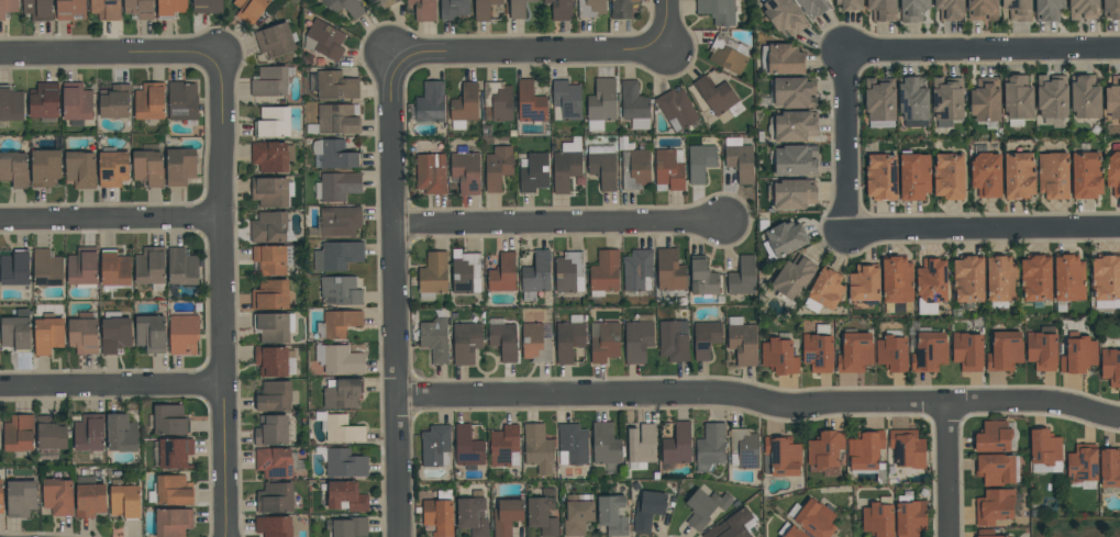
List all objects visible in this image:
building: (381, 3)
building: (850, 4)
building: (207, 7)
building: (345, 7)
building: (813, 7)
building: (8, 8)
building: (138, 8)
building: (170, 8)
building: (518, 8)
building: (37, 9)
building: (69, 9)
building: (106, 9)
building: (423, 9)
building: (453, 9)
building: (484, 9)
building: (559, 9)
building: (590, 9)
building: (621, 9)
building: (949, 9)
building: (1084, 9)
building: (1111, 9)
building: (249, 10)
building: (881, 10)
building: (911, 10)
building: (982, 10)
building: (1018, 10)
building: (1049, 10)
building: (717, 11)
building: (784, 15)
road: (668, 25)
building: (275, 40)
building: (324, 40)
road: (983, 49)
road: (528, 51)
road: (110, 54)
building: (728, 54)
building: (783, 59)
building: (270, 81)
building: (333, 85)
building: (795, 92)
building: (718, 97)
building: (1085, 97)
building: (1112, 98)
building: (985, 99)
building: (1018, 99)
building: (1052, 99)
building: (566, 100)
building: (45, 101)
building: (114, 101)
building: (149, 101)
building: (181, 101)
building: (498, 101)
building: (912, 101)
building: (946, 101)
building: (431, 102)
building: (880, 102)
building: (11, 103)
building: (76, 103)
building: (531, 103)
building: (601, 103)
building: (634, 104)
building: (464, 107)
building: (676, 110)
building: (337, 119)
building: (274, 121)
building: (795, 125)
road: (844, 144)
building: (334, 154)
building: (271, 156)
building: (739, 158)
building: (794, 160)
building: (700, 161)
building: (566, 165)
building: (601, 165)
building: (147, 167)
building: (179, 167)
building: (498, 167)
building: (45, 168)
building: (112, 168)
building: (669, 168)
building: (14, 169)
building: (635, 169)
building: (80, 170)
building: (430, 172)
building: (466, 172)
building: (533, 172)
building: (1113, 172)
building: (986, 175)
building: (1086, 175)
building: (913, 176)
building: (949, 176)
building: (1019, 176)
building: (1053, 176)
building: (881, 177)
building: (336, 187)
building: (270, 191)
building: (791, 193)
building: (340, 221)
road: (110, 222)
road: (563, 224)
building: (269, 227)
road: (986, 230)
building: (784, 239)
building: (337, 255)
building: (271, 259)
building: (82, 267)
building: (151, 267)
building: (181, 267)
building: (15, 268)
building: (46, 269)
building: (114, 269)
building: (637, 270)
building: (669, 270)
building: (465, 272)
building: (568, 272)
building: (603, 272)
building: (502, 273)
building: (433, 275)
building: (535, 276)
building: (743, 277)
building: (1035, 277)
building: (792, 278)
building: (968, 278)
building: (702, 279)
building: (1068, 280)
building: (1106, 280)
building: (1001, 281)
building: (864, 283)
building: (897, 284)
building: (931, 284)
building: (340, 291)
building: (824, 291)
road: (398, 292)
building: (271, 294)
road: (222, 295)
building: (339, 323)
building: (274, 327)
building: (16, 331)
building: (115, 333)
building: (151, 333)
building: (47, 334)
building: (84, 334)
building: (184, 334)
building: (569, 338)
building: (637, 338)
building: (705, 338)
building: (435, 339)
building: (503, 340)
building: (674, 340)
building: (742, 340)
building: (466, 342)
building: (603, 342)
building: (534, 343)
building: (818, 349)
building: (1042, 349)
building: (967, 350)
building: (854, 351)
building: (892, 351)
building: (929, 351)
building: (1005, 351)
building: (1078, 354)
building: (779, 357)
building: (340, 359)
building: (273, 360)
building: (1110, 366)
road: (112, 385)
building: (342, 393)
building: (276, 396)
road: (761, 402)
building: (168, 421)
building: (341, 428)
building: (271, 430)
building: (19, 433)
building: (89, 433)
building: (121, 434)
building: (51, 437)
building: (996, 437)
building: (572, 444)
building: (677, 444)
building: (435, 446)
building: (504, 446)
building: (606, 446)
building: (641, 446)
building: (468, 447)
building: (710, 447)
building: (537, 448)
building: (743, 448)
building: (907, 448)
building: (1044, 451)
building: (174, 452)
building: (825, 452)
building: (867, 454)
building: (781, 456)
building: (276, 462)
building: (342, 462)
building: (1082, 466)
building: (1109, 467)
building: (995, 469)
road: (946, 470)
building: (171, 491)
building: (57, 495)
building: (1, 496)
building: (345, 496)
building: (21, 497)
building: (89, 497)
building: (124, 499)
building: (275, 499)
building: (994, 506)
building: (705, 507)
building: (647, 508)
building: (542, 513)
building: (440, 514)
building: (473, 514)
building: (578, 514)
building: (612, 515)
building: (507, 516)
building: (910, 516)
building: (812, 517)
building: (878, 518)
building: (173, 522)
building: (735, 525)
building: (274, 526)
building: (346, 527)
building: (790, 532)
building: (987, 533)

